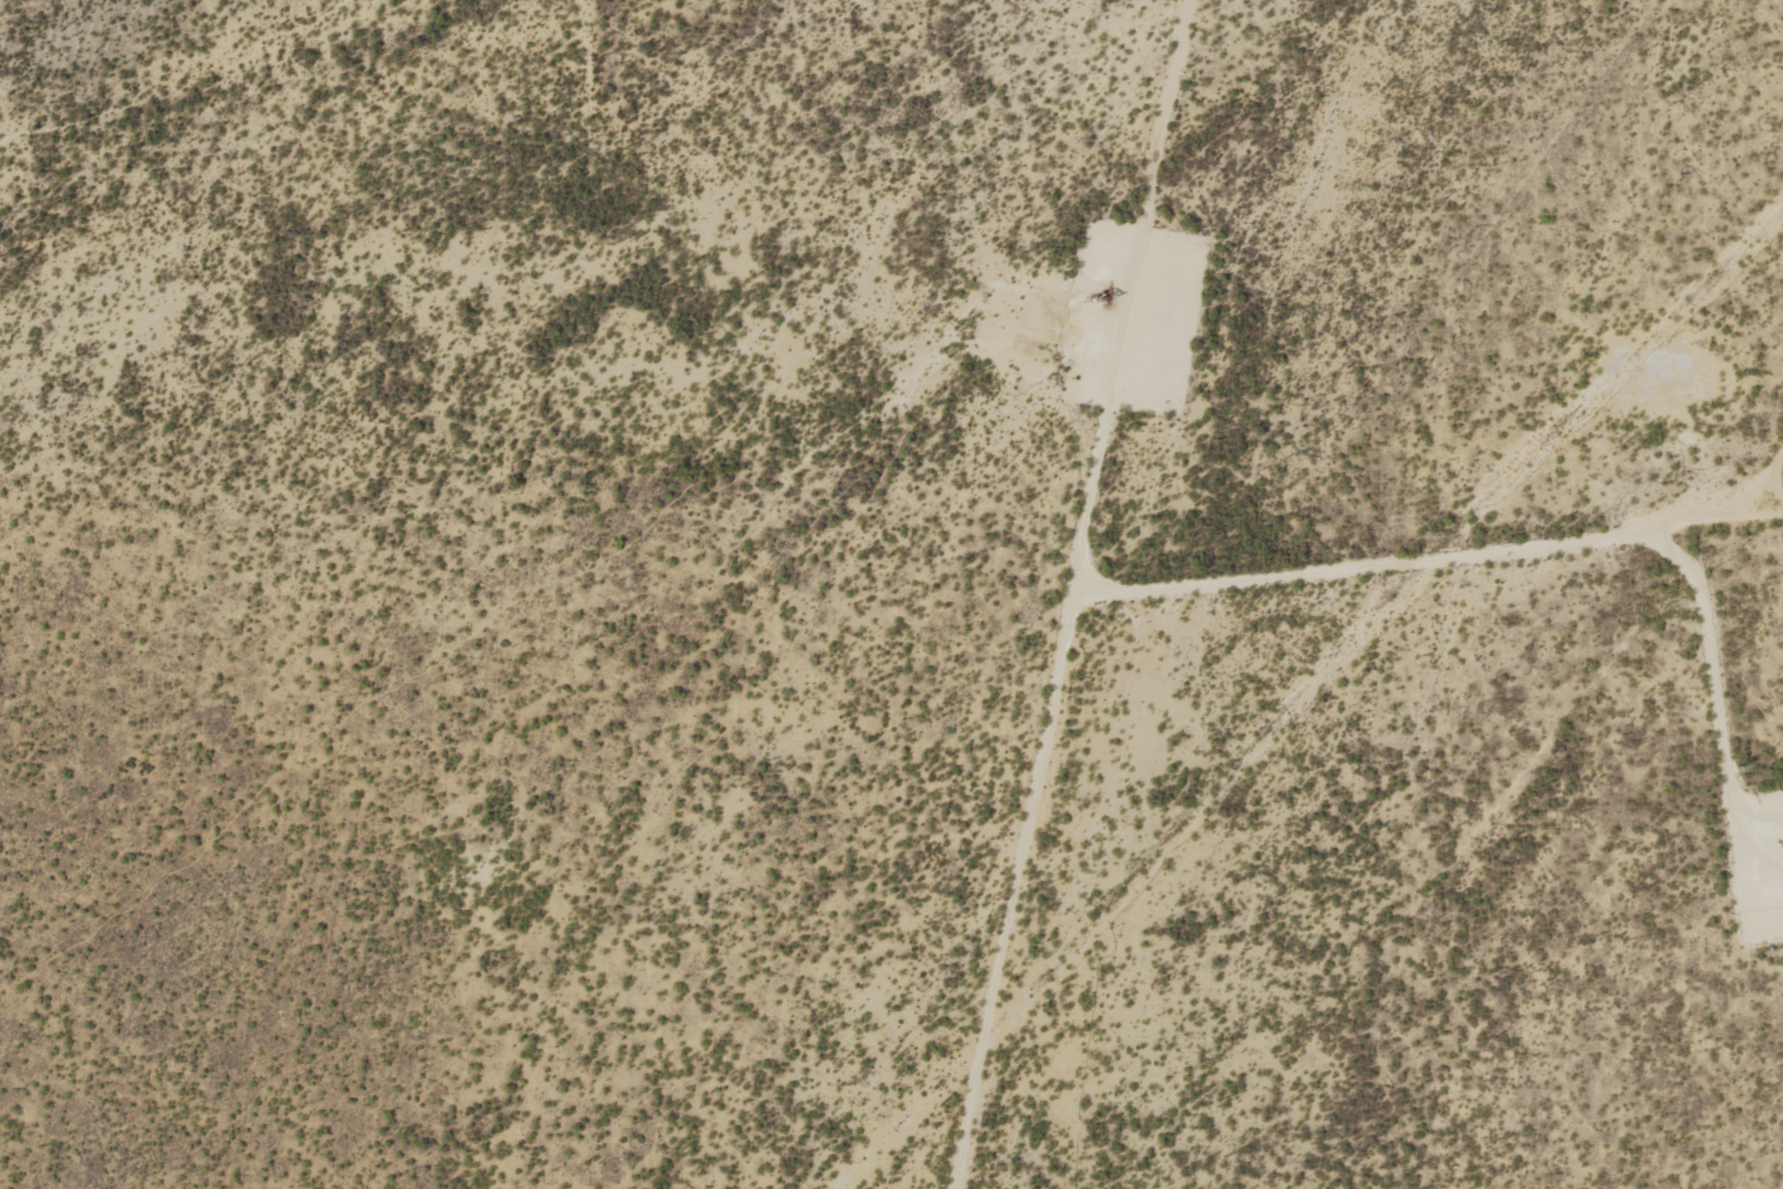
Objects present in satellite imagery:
road: (1077, 594)

